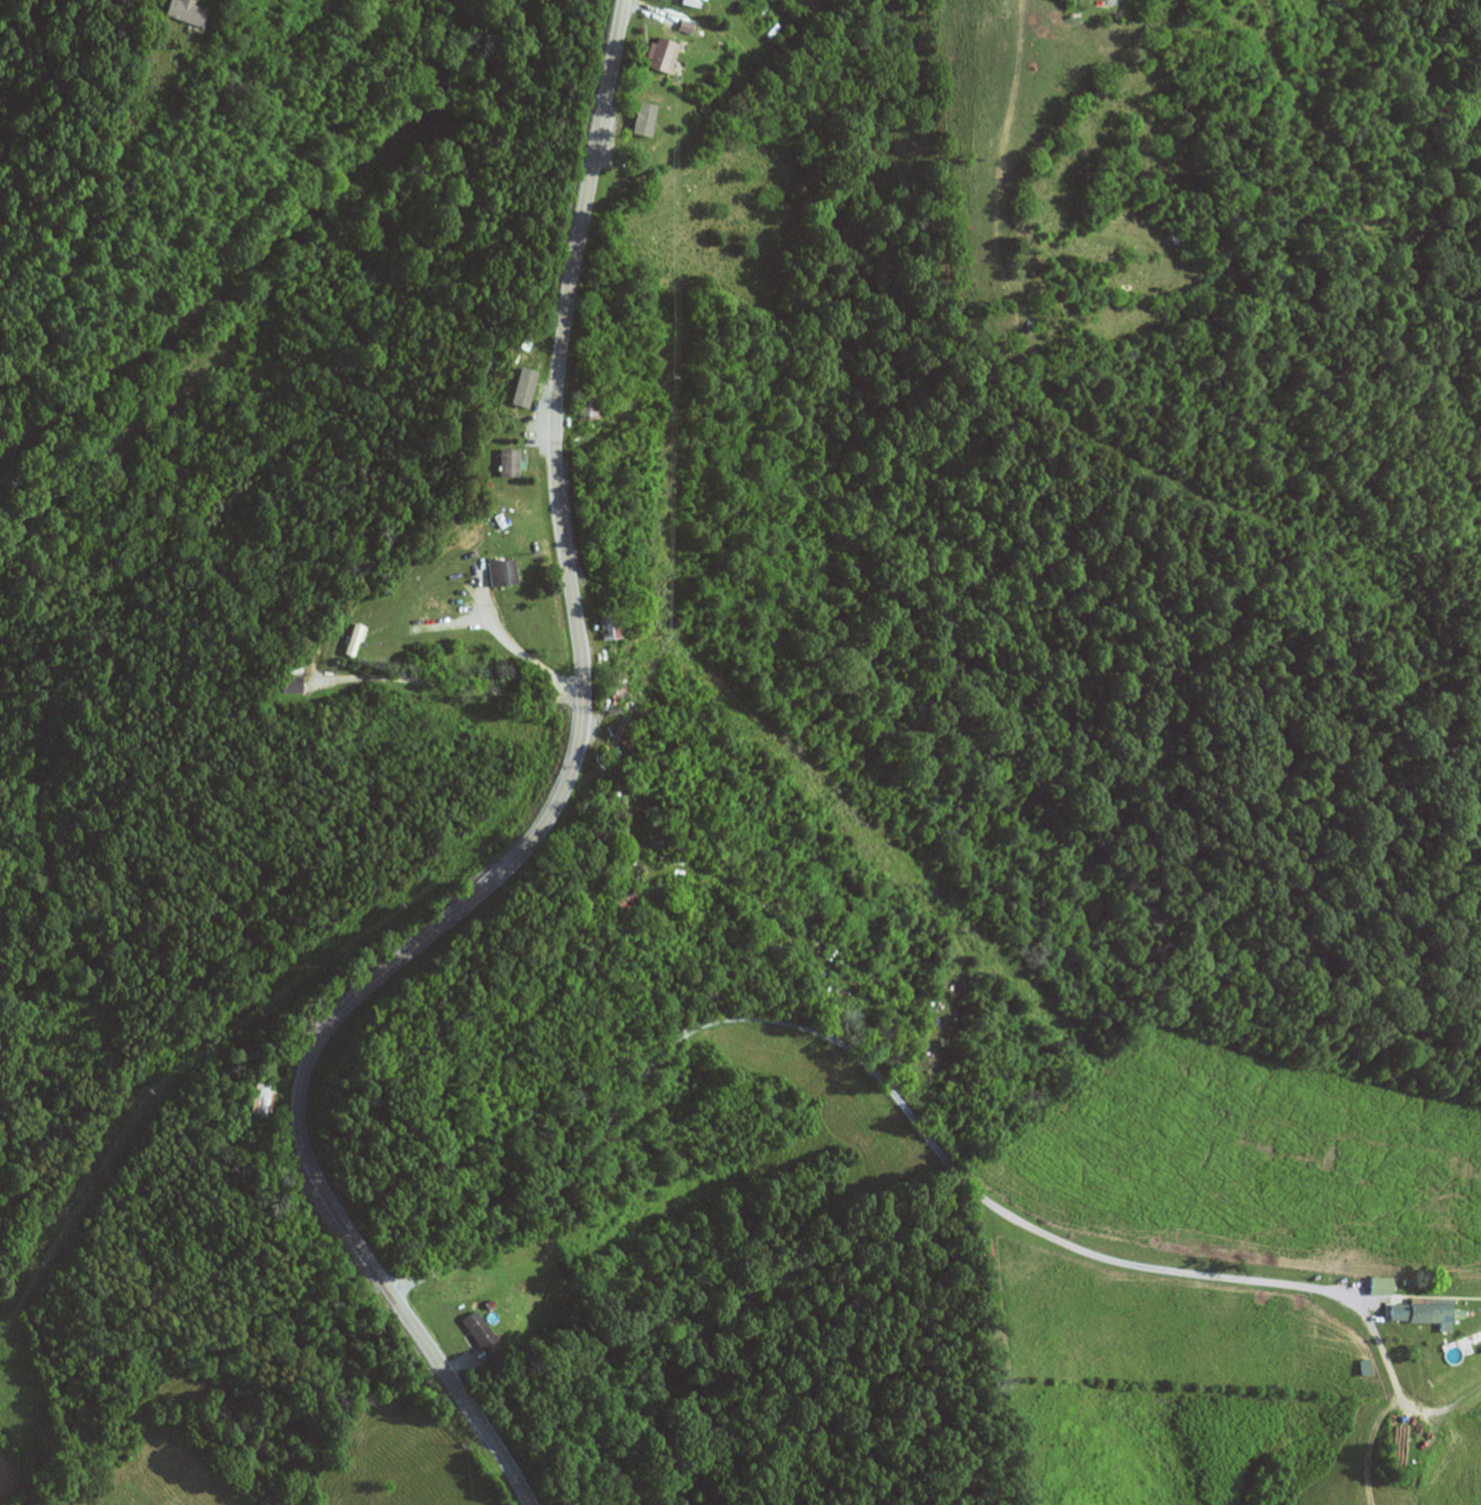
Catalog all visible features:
building: (696, 3)
building: (186, 11)
building: (664, 55)
building: (648, 128)
railway: (209, 275)
building: (525, 378)
building: (589, 408)
building: (510, 463)
building: (504, 573)
building: (438, 606)
building: (612, 626)
building: (355, 641)
building: (296, 669)
building: (291, 686)
road: (625, 789)
road: (542, 825)
building: (630, 902)
road: (861, 1058)
building: (263, 1100)
road: (130, 1275)
building: (1382, 1286)
building: (1425, 1311)
building: (480, 1330)
building: (1409, 1440)

